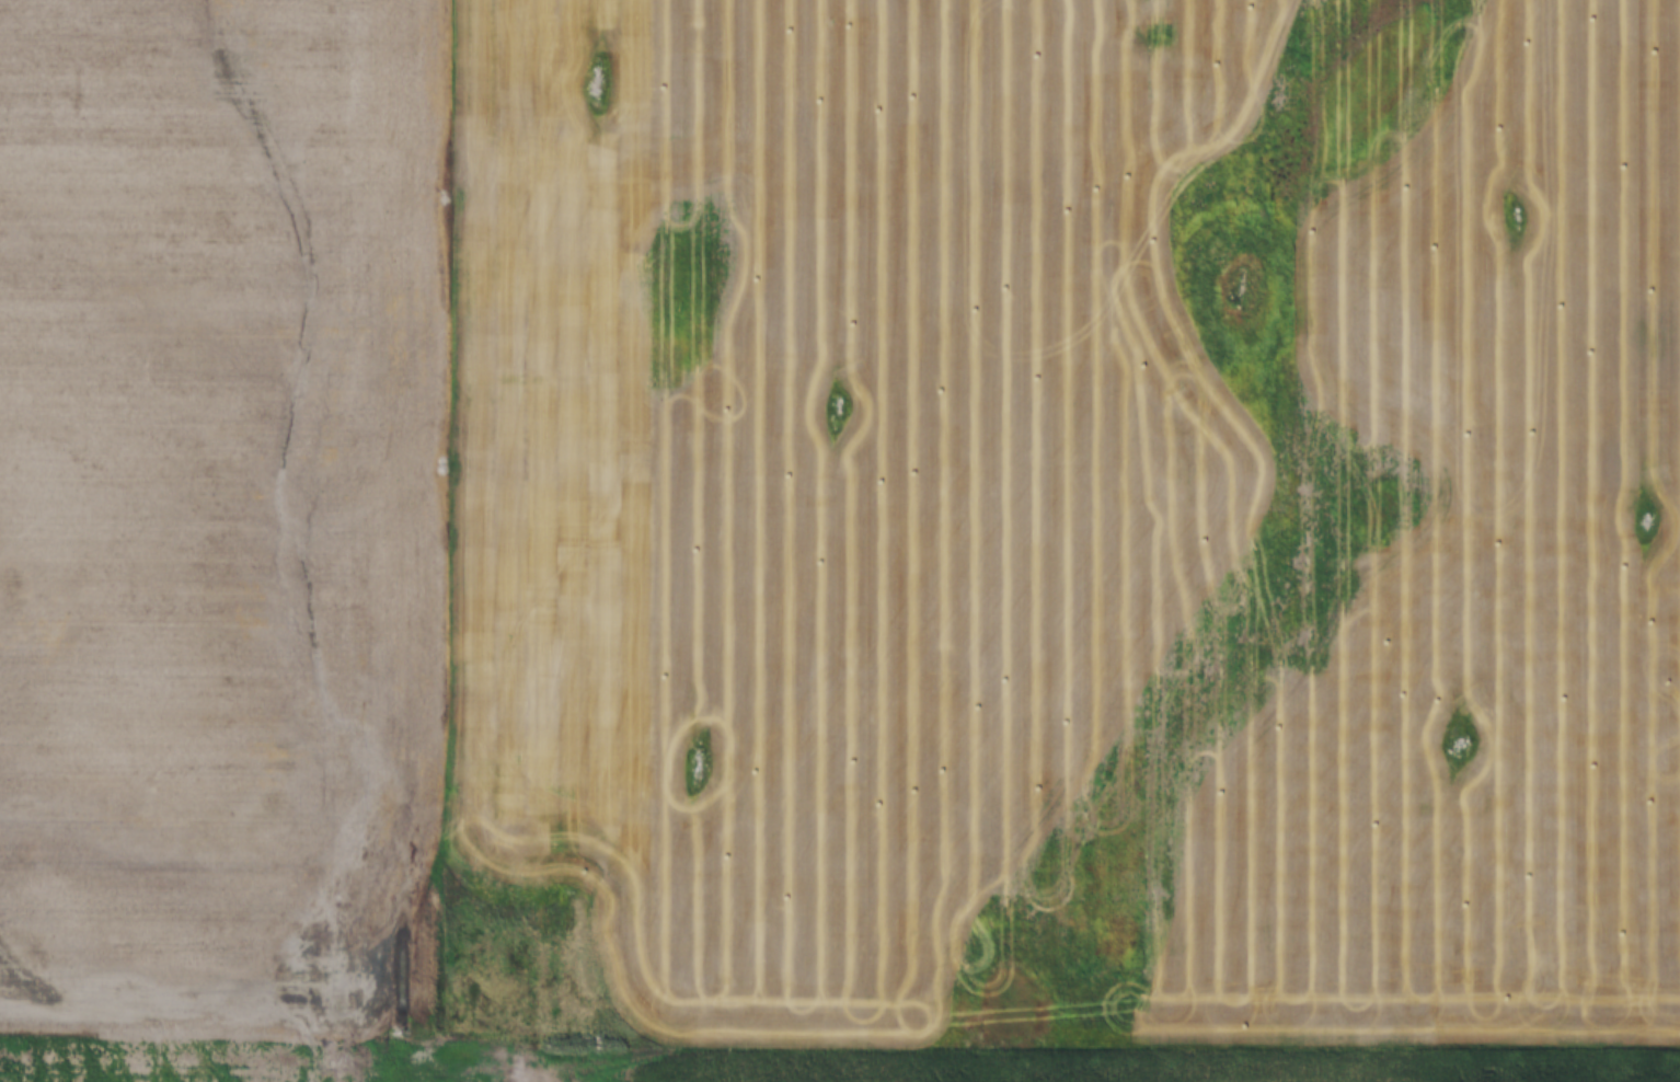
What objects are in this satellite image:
road: (462, 542)
road: (839, 1048)

